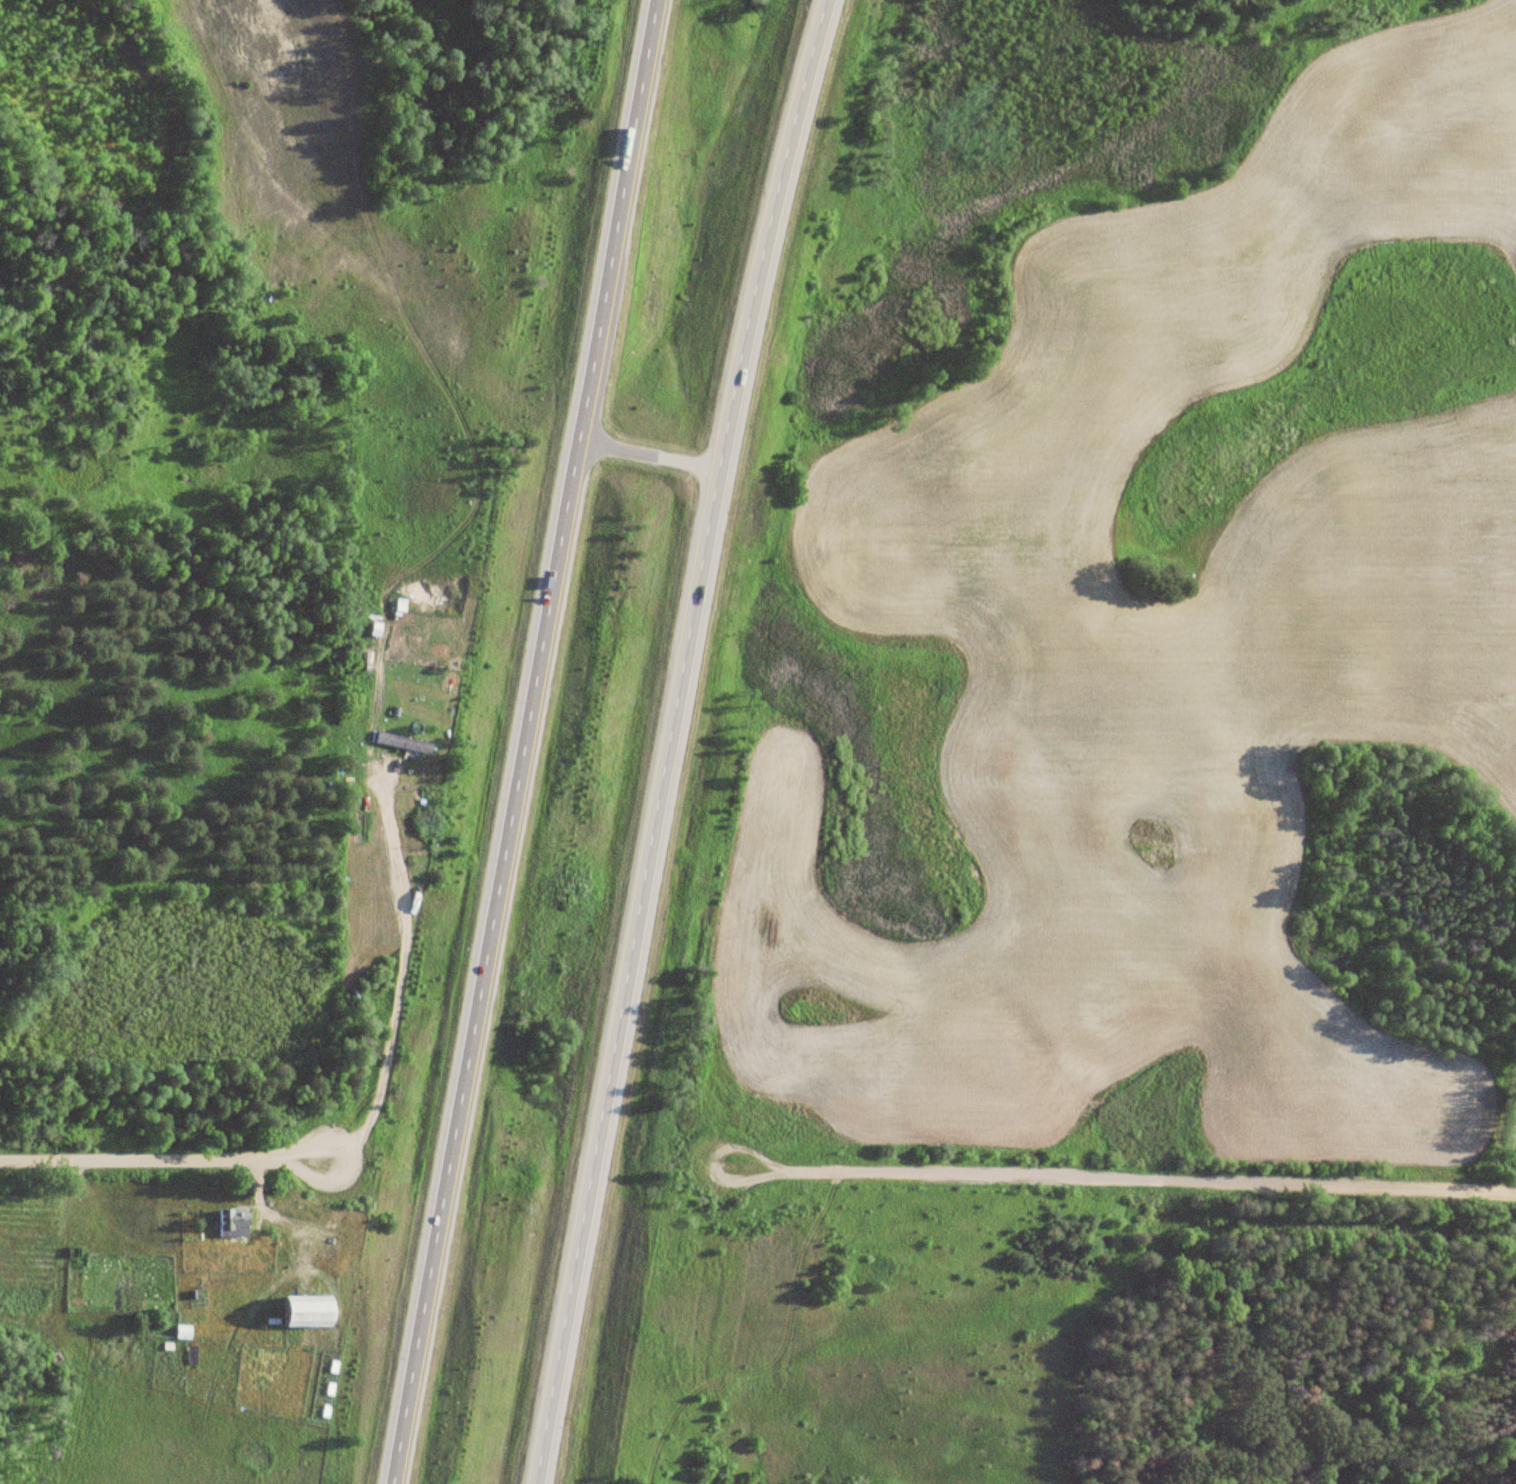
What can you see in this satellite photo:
road: (649, 457)
road: (671, 739)
road: (521, 741)
building: (404, 742)
road: (162, 1158)
road: (1128, 1180)
building: (233, 1221)
building: (307, 1311)

